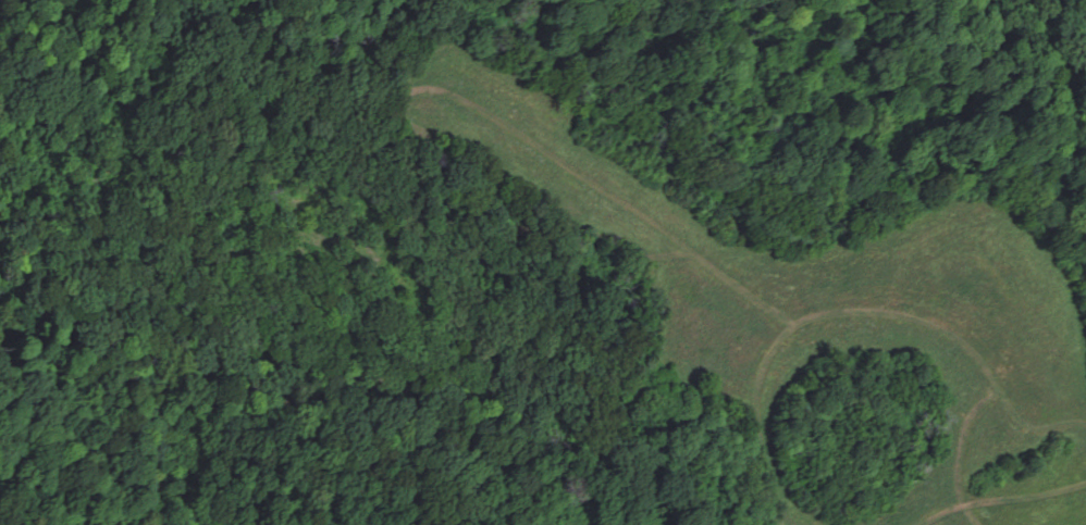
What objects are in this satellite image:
road: (4, 5)

